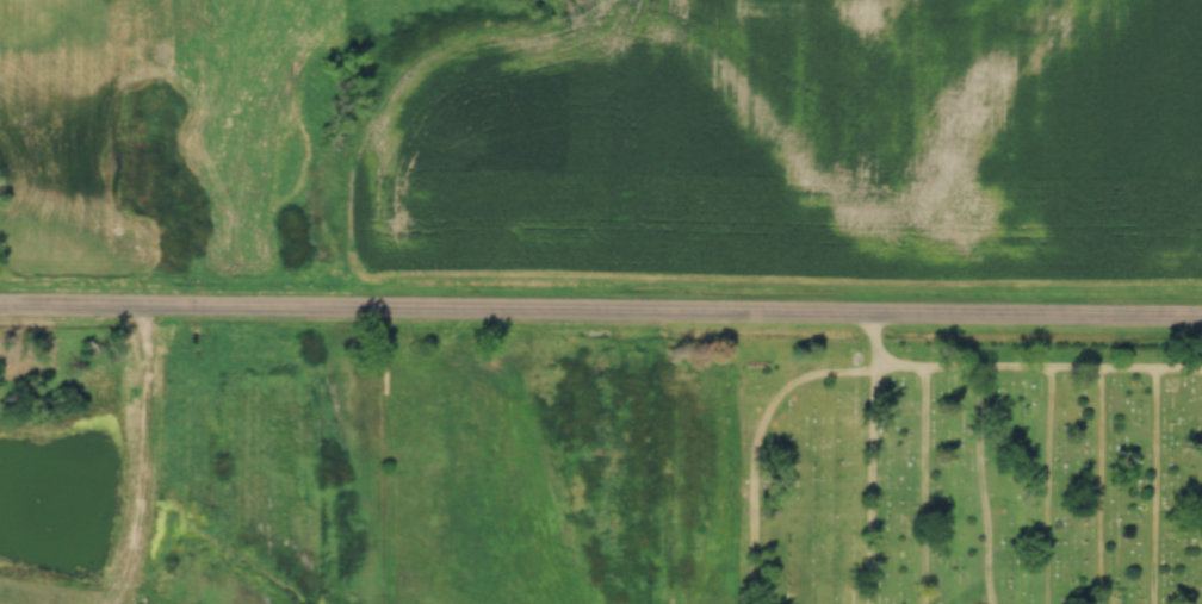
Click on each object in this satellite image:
road: (600, 313)
road: (1039, 362)
road: (874, 459)
road: (142, 460)
park: (965, 473)

